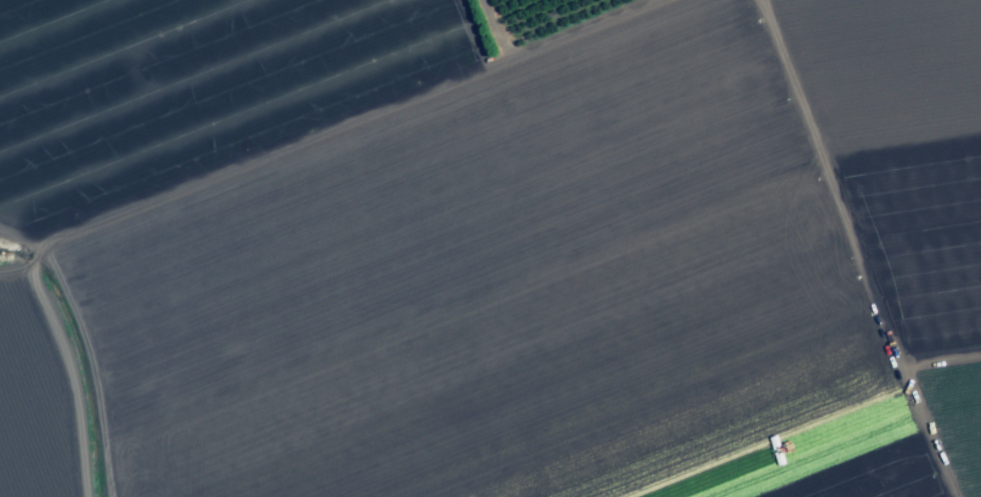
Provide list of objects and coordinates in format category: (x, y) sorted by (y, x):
crop: (490, 250)

